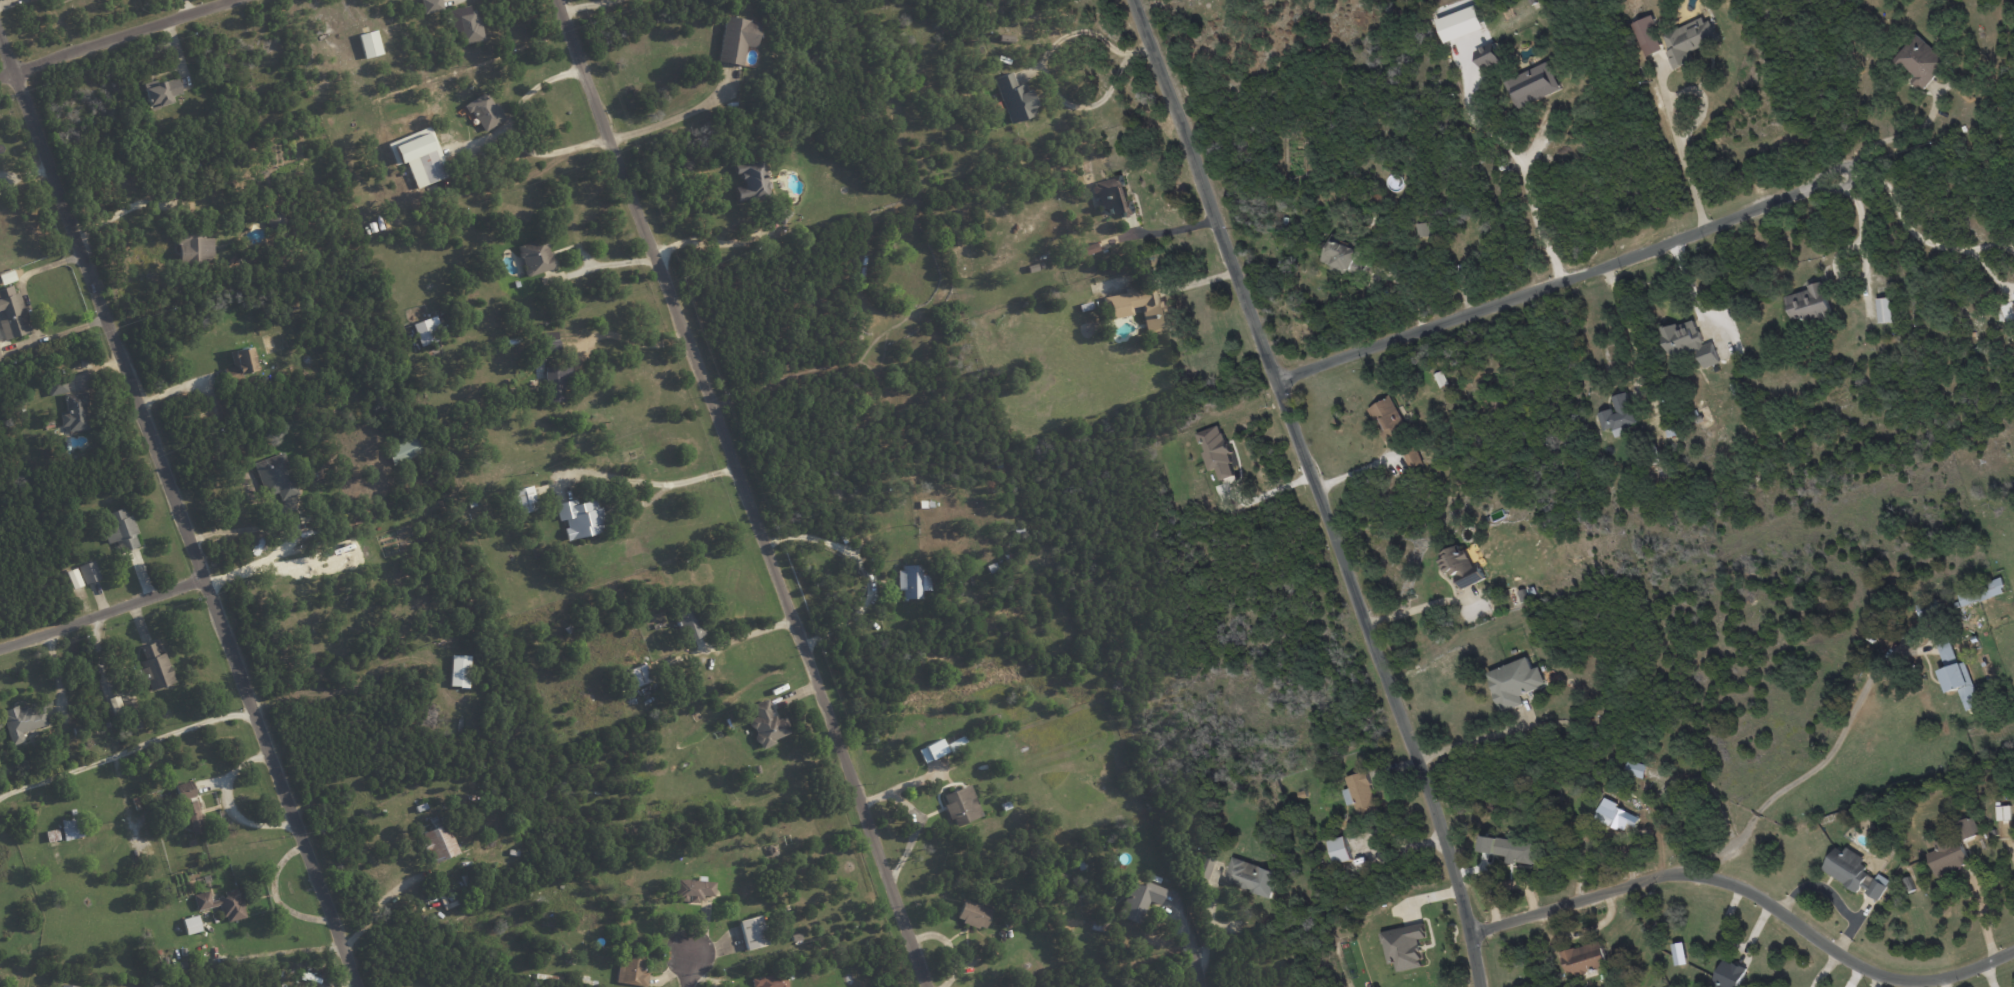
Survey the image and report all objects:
road: (582, 4)
building: (431, 5)
building: (465, 24)
building: (1647, 36)
building: (1005, 38)
road: (117, 39)
building: (737, 39)
building: (1688, 40)
building: (369, 44)
building: (1488, 57)
building: (1920, 61)
road: (1041, 66)
building: (1532, 85)
building: (1013, 97)
building: (484, 111)
road: (679, 116)
road: (1668, 118)
road: (519, 129)
road: (1900, 134)
building: (419, 156)
road: (1517, 156)
building: (751, 180)
building: (1113, 195)
road: (1907, 207)
building: (274, 219)
building: (1420, 229)
road: (1171, 230)
road: (1992, 234)
road: (715, 242)
building: (193, 247)
building: (1088, 248)
building: (535, 255)
building: (1341, 257)
road: (1990, 260)
road: (1565, 279)
road: (1690, 288)
building: (1809, 304)
building: (2012, 304)
building: (1141, 307)
building: (1883, 309)
building: (12, 313)
road: (1626, 326)
building: (427, 330)
road: (61, 333)
building: (550, 342)
building: (1688, 342)
building: (0, 358)
building: (1441, 379)
building: (556, 381)
road: (180, 385)
building: (56, 386)
building: (74, 412)
building: (1617, 415)
building: (1388, 418)
building: (403, 450)
building: (1216, 451)
building: (1412, 457)
road: (647, 469)
building: (275, 476)
road: (1316, 490)
road: (746, 491)
road: (1266, 493)
building: (524, 499)
road: (179, 512)
building: (579, 517)
building: (120, 530)
road: (286, 537)
building: (1461, 566)
road: (866, 569)
building: (89, 571)
building: (73, 578)
building: (911, 581)
building: (1981, 592)
road: (1416, 607)
building: (1928, 608)
road: (102, 612)
building: (689, 622)
road: (745, 634)
building: (155, 667)
building: (459, 671)
building: (636, 676)
building: (1957, 677)
building: (1514, 682)
building: (23, 721)
building: (766, 724)
road: (1473, 739)
building: (931, 750)
road: (125, 751)
building: (1634, 768)
road: (1812, 770)
building: (184, 790)
building: (1360, 794)
road: (227, 803)
building: (960, 805)
building: (2003, 813)
building: (1610, 814)
building: (191, 816)
building: (71, 827)
building: (1969, 827)
building: (440, 842)
building: (1339, 850)
building: (1518, 850)
building: (1948, 855)
building: (1201, 866)
building: (1854, 872)
building: (1251, 877)
building: (693, 889)
road: (274, 894)
road: (1751, 897)
building: (1139, 900)
building: (221, 903)
road: (379, 905)
building: (973, 914)
road: (1982, 917)
building: (191, 924)
building: (751, 932)
building: (1404, 946)
road: (1192, 950)
building: (1583, 958)
building: (631, 970)
road: (688, 971)
building: (1728, 975)
building: (770, 980)
road: (1877, 981)
road: (1943, 983)
building: (66, 985)

